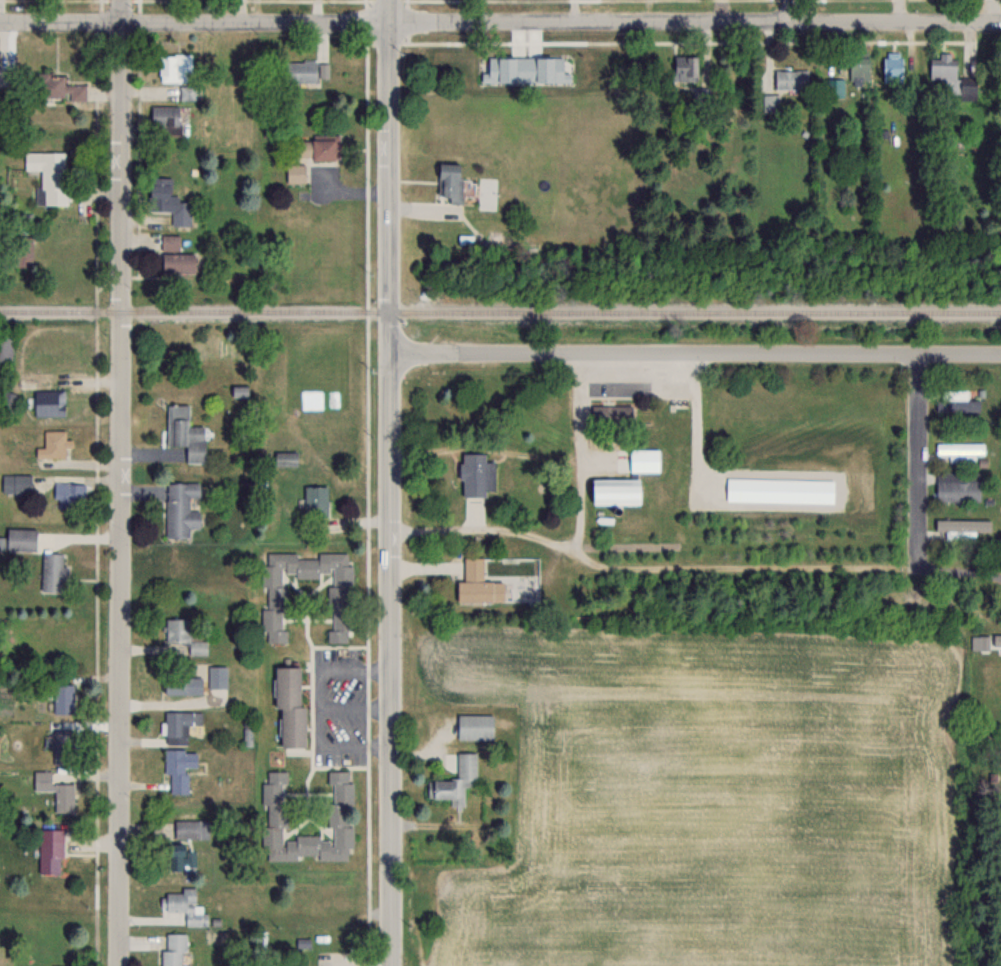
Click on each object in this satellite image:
road: (792, 11)
road: (500, 23)
building: (442, 62)
building: (465, 64)
building: (891, 67)
building: (942, 67)
building: (172, 69)
building: (684, 69)
building: (300, 72)
building: (791, 80)
building: (967, 85)
building: (56, 88)
building: (834, 88)
building: (770, 103)
building: (164, 117)
building: (315, 149)
building: (295, 174)
building: (49, 175)
building: (449, 182)
building: (167, 202)
building: (22, 251)
building: (174, 257)
railway: (500, 312)
building: (6, 348)
road: (694, 355)
building: (958, 401)
building: (50, 402)
building: (610, 414)
building: (184, 433)
building: (52, 445)
building: (958, 451)
road: (578, 453)
building: (285, 458)
road: (916, 461)
building: (475, 474)
road: (390, 482)
road: (122, 483)
building: (15, 484)
building: (957, 485)
building: (613, 492)
building: (69, 495)
building: (315, 500)
building: (179, 509)
building: (960, 528)
building: (19, 540)
road: (692, 566)
building: (52, 572)
building: (477, 583)
building: (273, 603)
building: (185, 635)
building: (1000, 640)
building: (216, 677)
building: (180, 686)
building: (61, 699)
building: (288, 707)
road: (355, 707)
road: (318, 708)
building: (179, 726)
building: (475, 726)
building: (178, 768)
building: (455, 782)
building: (54, 791)
building: (340, 816)
building: (191, 829)
building: (178, 858)
building: (186, 906)
building: (172, 949)

